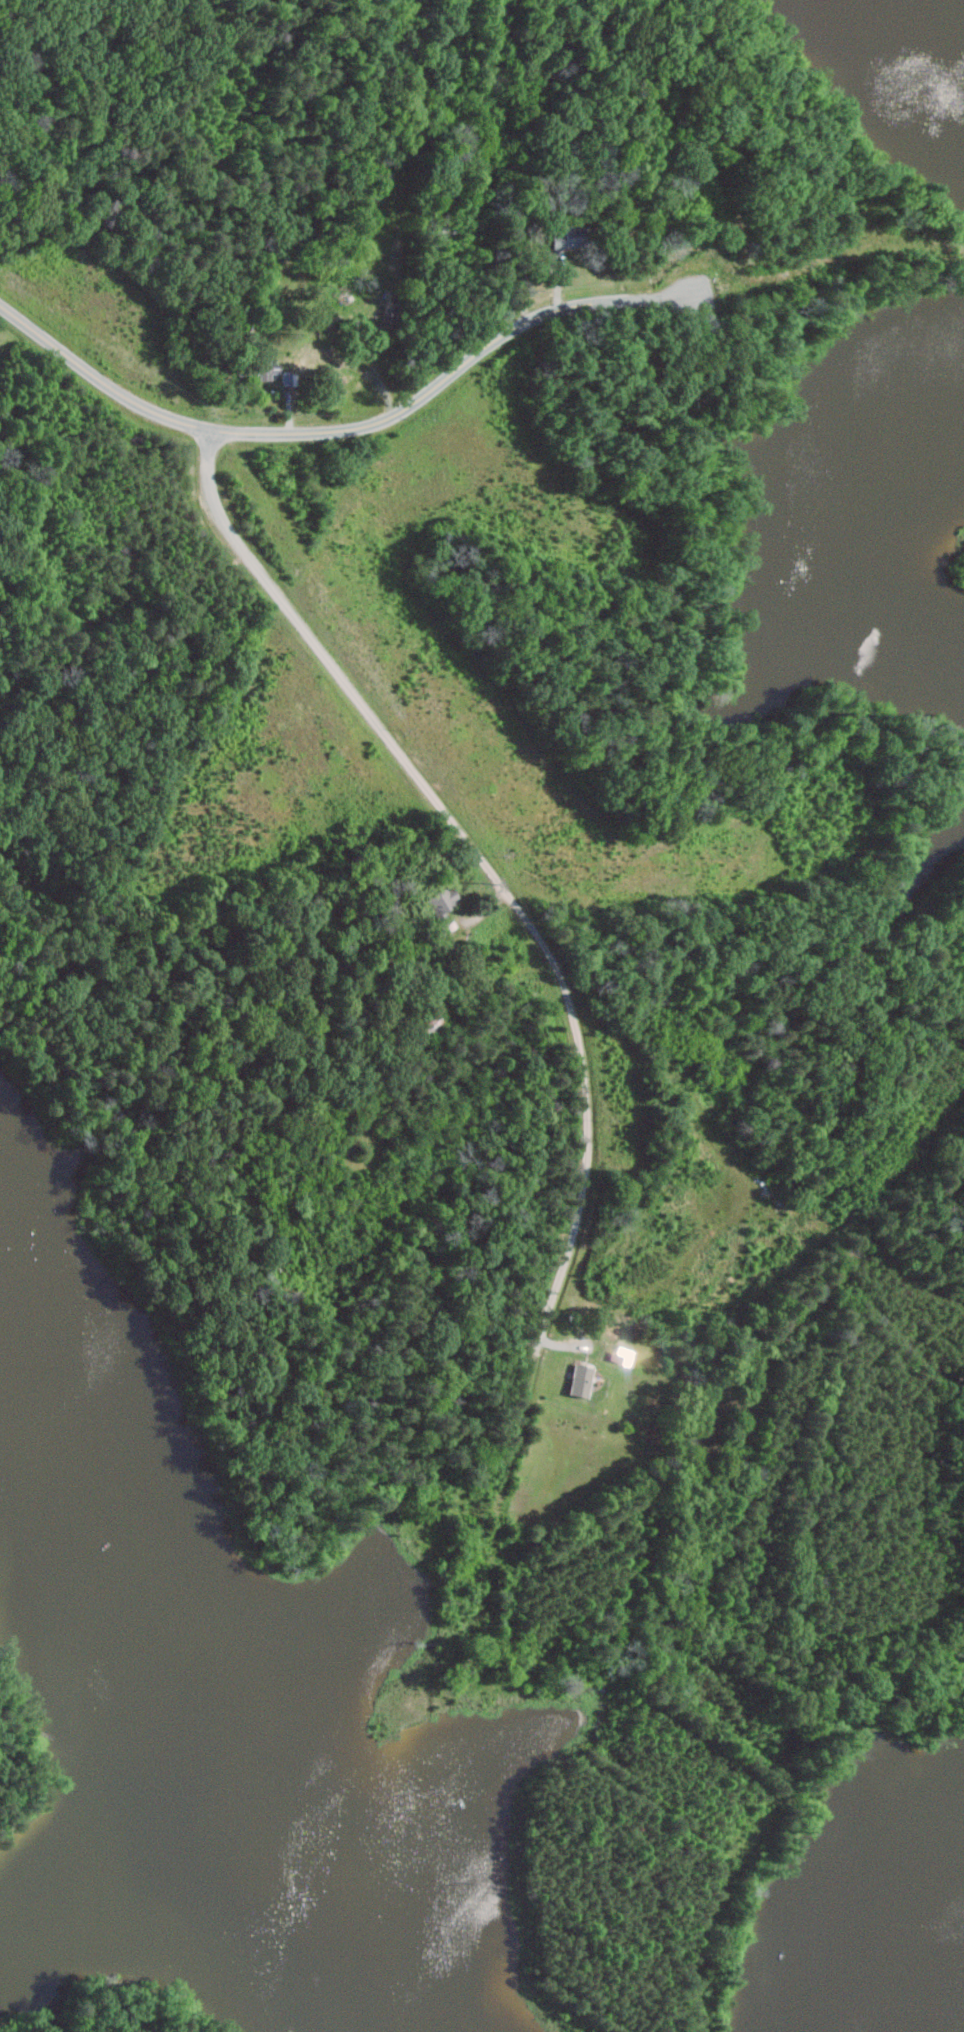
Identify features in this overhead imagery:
building: (567, 238)
road: (465, 363)
building: (268, 371)
building: (290, 378)
road: (573, 1022)
building: (582, 1380)
river: (182, 1743)
river: (834, 1886)

